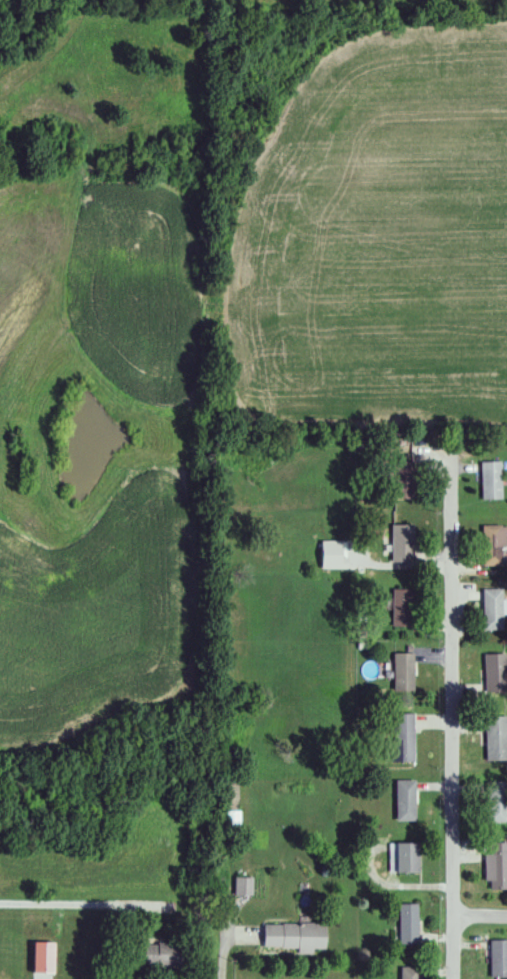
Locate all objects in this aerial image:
park: (109, 4)
building: (398, 480)
building: (487, 481)
building: (399, 544)
building: (489, 544)
building: (399, 608)
building: (490, 610)
building: (398, 673)
building: (492, 675)
road: (449, 723)
building: (399, 738)
building: (492, 739)
building: (491, 800)
building: (402, 801)
road: (222, 838)
building: (399, 858)
building: (495, 865)
building: (239, 887)
road: (111, 905)
road: (477, 913)
building: (404, 924)
building: (290, 936)
building: (150, 954)
building: (35, 956)
building: (495, 958)
building: (405, 972)

